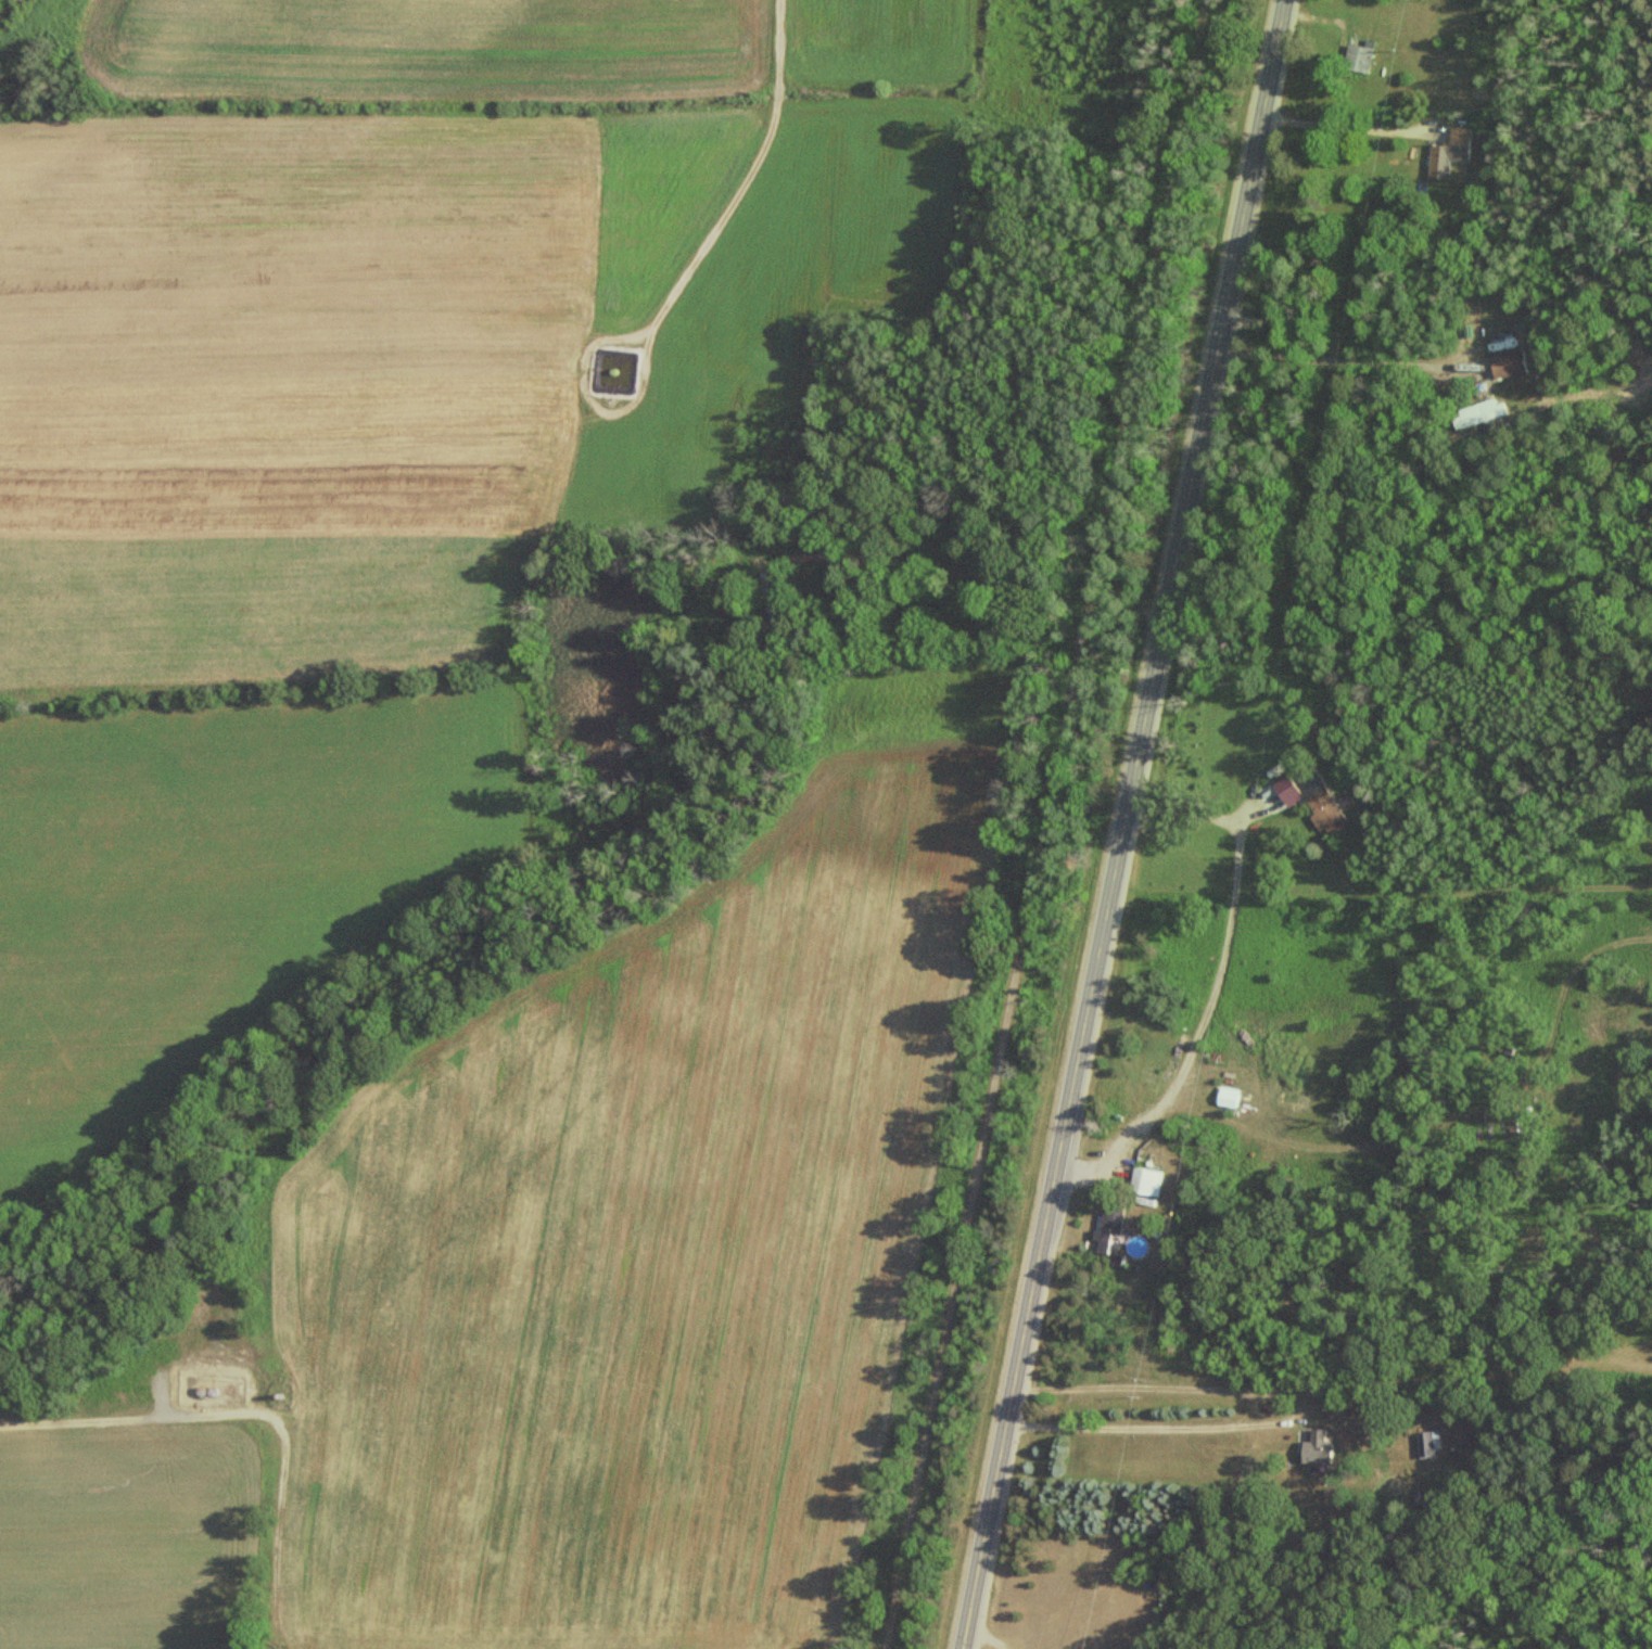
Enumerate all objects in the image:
building: (1355, 60)
road: (1351, 111)
building: (1447, 153)
road: (747, 192)
building: (1505, 362)
road: (1337, 363)
building: (1479, 414)
road: (988, 578)
building: (1317, 801)
road: (1040, 823)
road: (1118, 824)
road: (1211, 986)
building: (1143, 1183)
building: (1106, 1224)
road: (1356, 1384)
road: (1287, 1408)
road: (252, 1421)
road: (1263, 1433)
building: (1425, 1443)
building: (1313, 1448)
road: (974, 1635)

